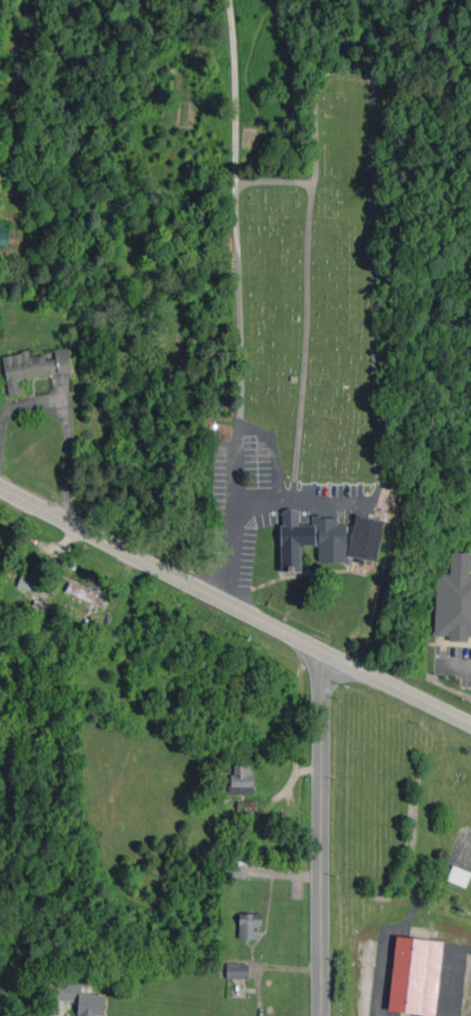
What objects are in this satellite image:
building: (4, 234)
road: (240, 301)
building: (32, 367)
road: (64, 410)
road: (299, 502)
building: (366, 537)
building: (311, 539)
building: (34, 584)
building: (87, 597)
building: (454, 600)
road: (234, 609)
road: (454, 662)
building: (242, 779)
building: (246, 805)
road: (324, 836)
building: (235, 868)
building: (249, 925)
building: (238, 970)
building: (415, 975)
building: (77, 998)

